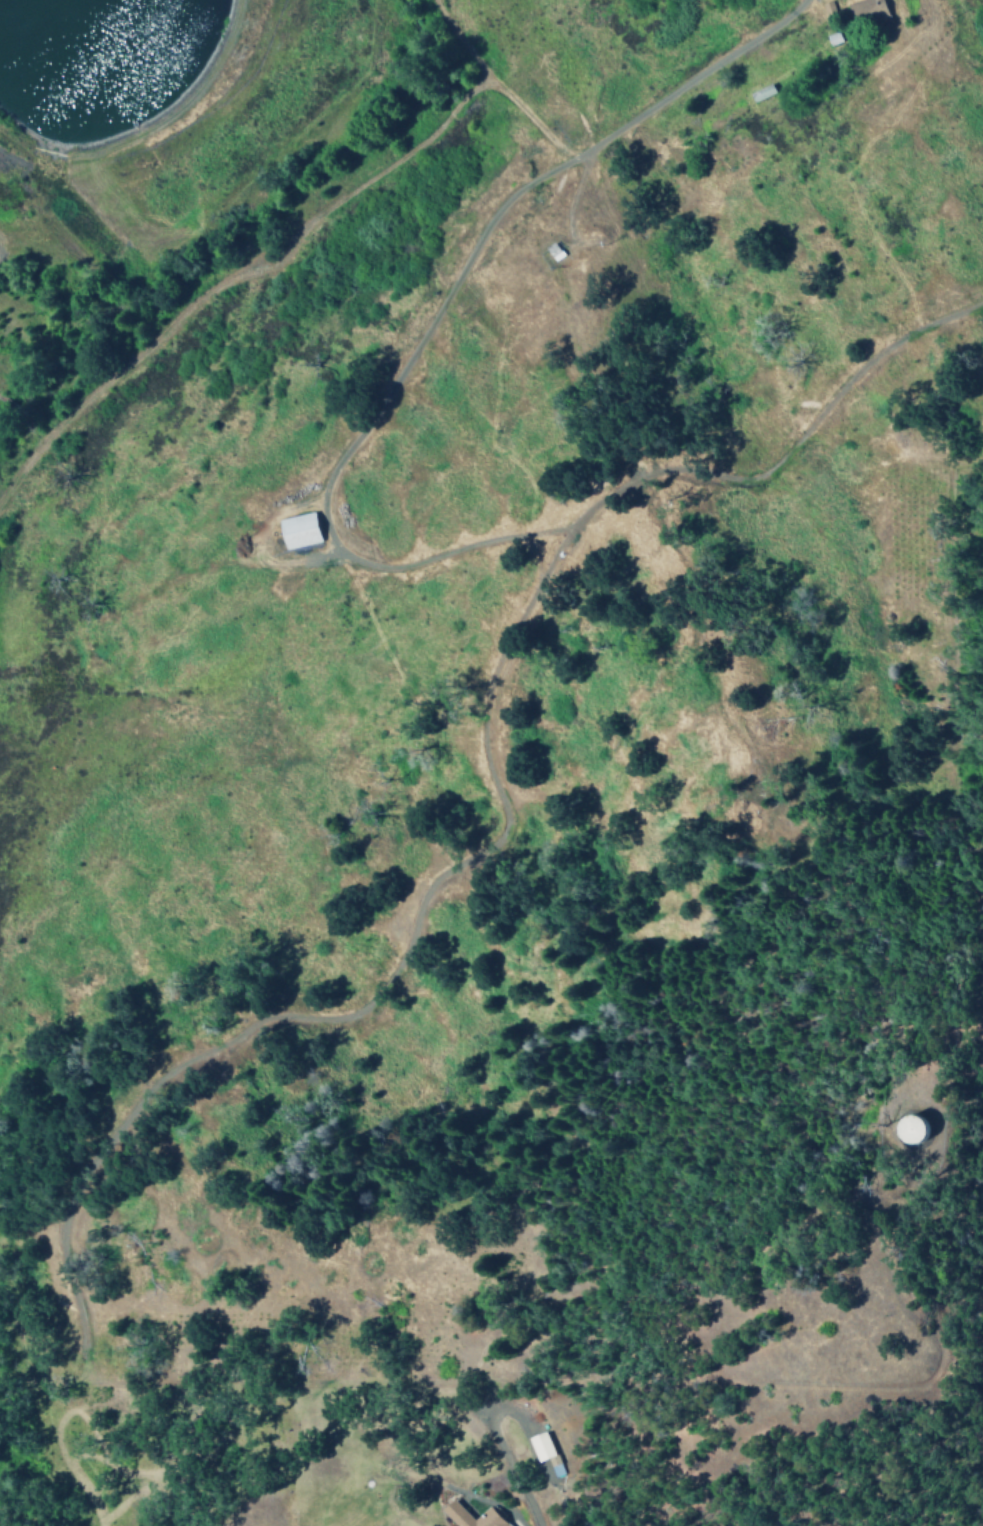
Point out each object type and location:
building: (552, 251)
road: (433, 322)
road: (790, 451)
building: (296, 531)
road: (550, 567)
road: (536, 571)
road: (335, 1021)
road: (941, 1078)
building: (895, 1128)
building: (539, 1446)
building: (554, 1466)
building: (469, 1516)

